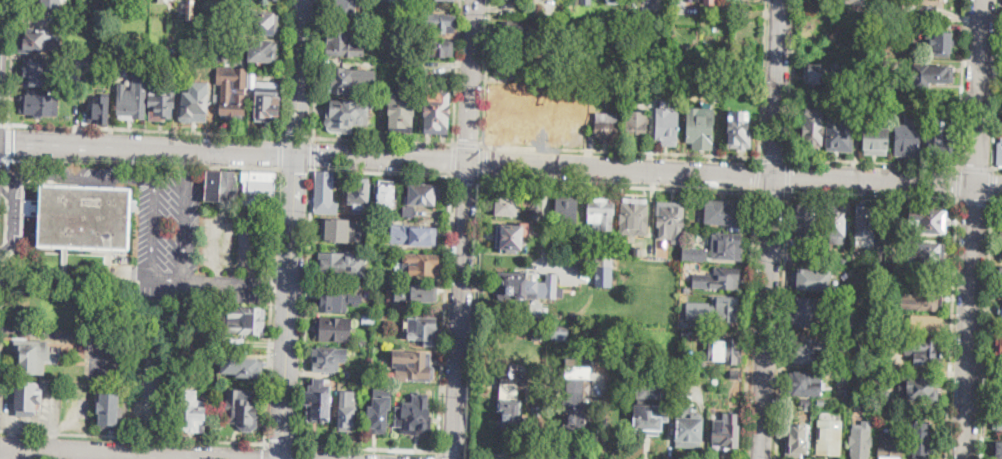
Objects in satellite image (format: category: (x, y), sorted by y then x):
building: (163, 0)
building: (450, 0)
building: (615, 0)
building: (162, 1)
building: (392, 1)
building: (709, 1)
building: (853, 1)
building: (923, 1)
building: (584, 2)
building: (520, 3)
building: (51, 4)
building: (245, 4)
building: (689, 6)
building: (347, 7)
building: (940, 7)
building: (191, 10)
building: (357, 10)
building: (520, 12)
building: (742, 12)
building: (908, 12)
building: (927, 14)
building: (261, 22)
building: (436, 24)
building: (512, 31)
building: (39, 42)
building: (939, 43)
building: (345, 44)
building: (142, 48)
building: (437, 48)
building: (261, 50)
building: (117, 61)
road: (11, 62)
building: (510, 63)
road: (283, 67)
road: (316, 68)
building: (679, 70)
building: (42, 71)
building: (425, 71)
road: (456, 71)
road: (485, 72)
building: (824, 74)
building: (931, 75)
road: (299, 76)
road: (792, 78)
building: (350, 79)
road: (765, 79)
building: (251, 81)
road: (471, 82)
road: (962, 82)
building: (854, 85)
road: (996, 85)
building: (155, 88)
building: (232, 89)
road: (977, 93)
building: (133, 102)
building: (269, 102)
building: (382, 102)
building: (195, 104)
building: (43, 105)
building: (163, 106)
building: (100, 110)
building: (401, 111)
building: (437, 113)
building: (349, 115)
road: (4, 123)
building: (636, 126)
building: (668, 126)
building: (606, 127)
building: (813, 128)
road: (144, 129)
building: (700, 129)
building: (739, 132)
building: (839, 135)
road: (296, 136)
building: (907, 138)
building: (939, 139)
road: (383, 140)
building: (875, 140)
road: (8, 142)
road: (468, 144)
road: (233, 149)
road: (280, 151)
road: (621, 152)
road: (312, 153)
building: (1000, 155)
road: (179, 158)
road: (453, 158)
road: (774, 158)
road: (4, 159)
road: (482, 161)
road: (875, 161)
road: (144, 163)
road: (976, 168)
road: (295, 169)
road: (381, 171)
road: (466, 174)
road: (720, 175)
road: (757, 175)
road: (790, 175)
road: (959, 182)
road: (618, 184)
road: (992, 185)
building: (222, 186)
road: (987, 186)
building: (259, 188)
road: (8, 191)
road: (772, 193)
building: (324, 194)
building: (423, 194)
building: (360, 196)
building: (387, 196)
road: (874, 197)
road: (975, 200)
road: (997, 201)
building: (506, 206)
building: (563, 210)
road: (15, 211)
building: (409, 211)
building: (724, 212)
building: (535, 213)
building: (601, 213)
building: (85, 218)
road: (216, 218)
building: (634, 218)
building: (671, 220)
building: (805, 220)
building: (928, 220)
parking lot: (141, 221)
building: (865, 222)
building: (835, 223)
road: (772, 229)
building: (1001, 229)
building: (338, 230)
road: (149, 235)
building: (413, 235)
building: (511, 237)
building: (726, 246)
building: (636, 250)
parking lot: (229, 252)
building: (1001, 253)
building: (928, 254)
building: (695, 255)
building: (374, 256)
road: (4, 259)
building: (844, 260)
building: (343, 265)
building: (421, 265)
road: (31, 268)
building: (604, 272)
building: (1001, 274)
building: (386, 275)
building: (720, 279)
building: (812, 280)
building: (524, 286)
road: (276, 289)
building: (687, 289)
building: (416, 293)
building: (924, 298)
building: (336, 300)
road: (272, 304)
road: (288, 305)
road: (305, 306)
building: (699, 307)
building: (1000, 309)
building: (717, 310)
road: (460, 311)
building: (808, 312)
road: (446, 313)
road: (474, 314)
building: (906, 317)
building: (368, 319)
building: (247, 321)
building: (193, 322)
road: (969, 322)
building: (925, 324)
road: (749, 326)
road: (782, 326)
building: (537, 328)
building: (336, 329)
building: (422, 329)
road: (952, 329)
building: (559, 330)
road: (986, 330)
building: (686, 331)
road: (74, 332)
building: (600, 332)
road: (11, 336)
building: (626, 336)
building: (810, 348)
building: (999, 348)
building: (866, 349)
building: (726, 350)
building: (924, 351)
building: (33, 355)
building: (327, 359)
parking lot: (108, 362)
building: (242, 366)
building: (414, 366)
building: (735, 373)
building: (685, 374)
building: (866, 378)
building: (715, 381)
building: (806, 383)
parking lot: (147, 385)
building: (1000, 387)
building: (922, 388)
building: (893, 393)
building: (27, 395)
road: (148, 399)
building: (509, 399)
building: (821, 401)
parking lot: (50, 403)
building: (318, 404)
building: (805, 404)
building: (871, 405)
building: (576, 406)
building: (858, 406)
building: (347, 408)
building: (243, 409)
building: (109, 411)
building: (649, 411)
building: (885, 411)
building: (192, 412)
building: (379, 414)
building: (415, 416)
road: (52, 419)
building: (998, 421)
building: (688, 427)
building: (815, 427)
building: (725, 432)
road: (132, 436)
building: (829, 438)
building: (798, 441)
building: (922, 441)
road: (282, 442)
building: (861, 443)
building: (891, 445)
road: (369, 447)
road: (264, 450)
building: (998, 450)
road: (299, 451)
road: (96, 454)
road: (453, 454)
road: (467, 455)
road: (547, 455)
road: (439, 456)

